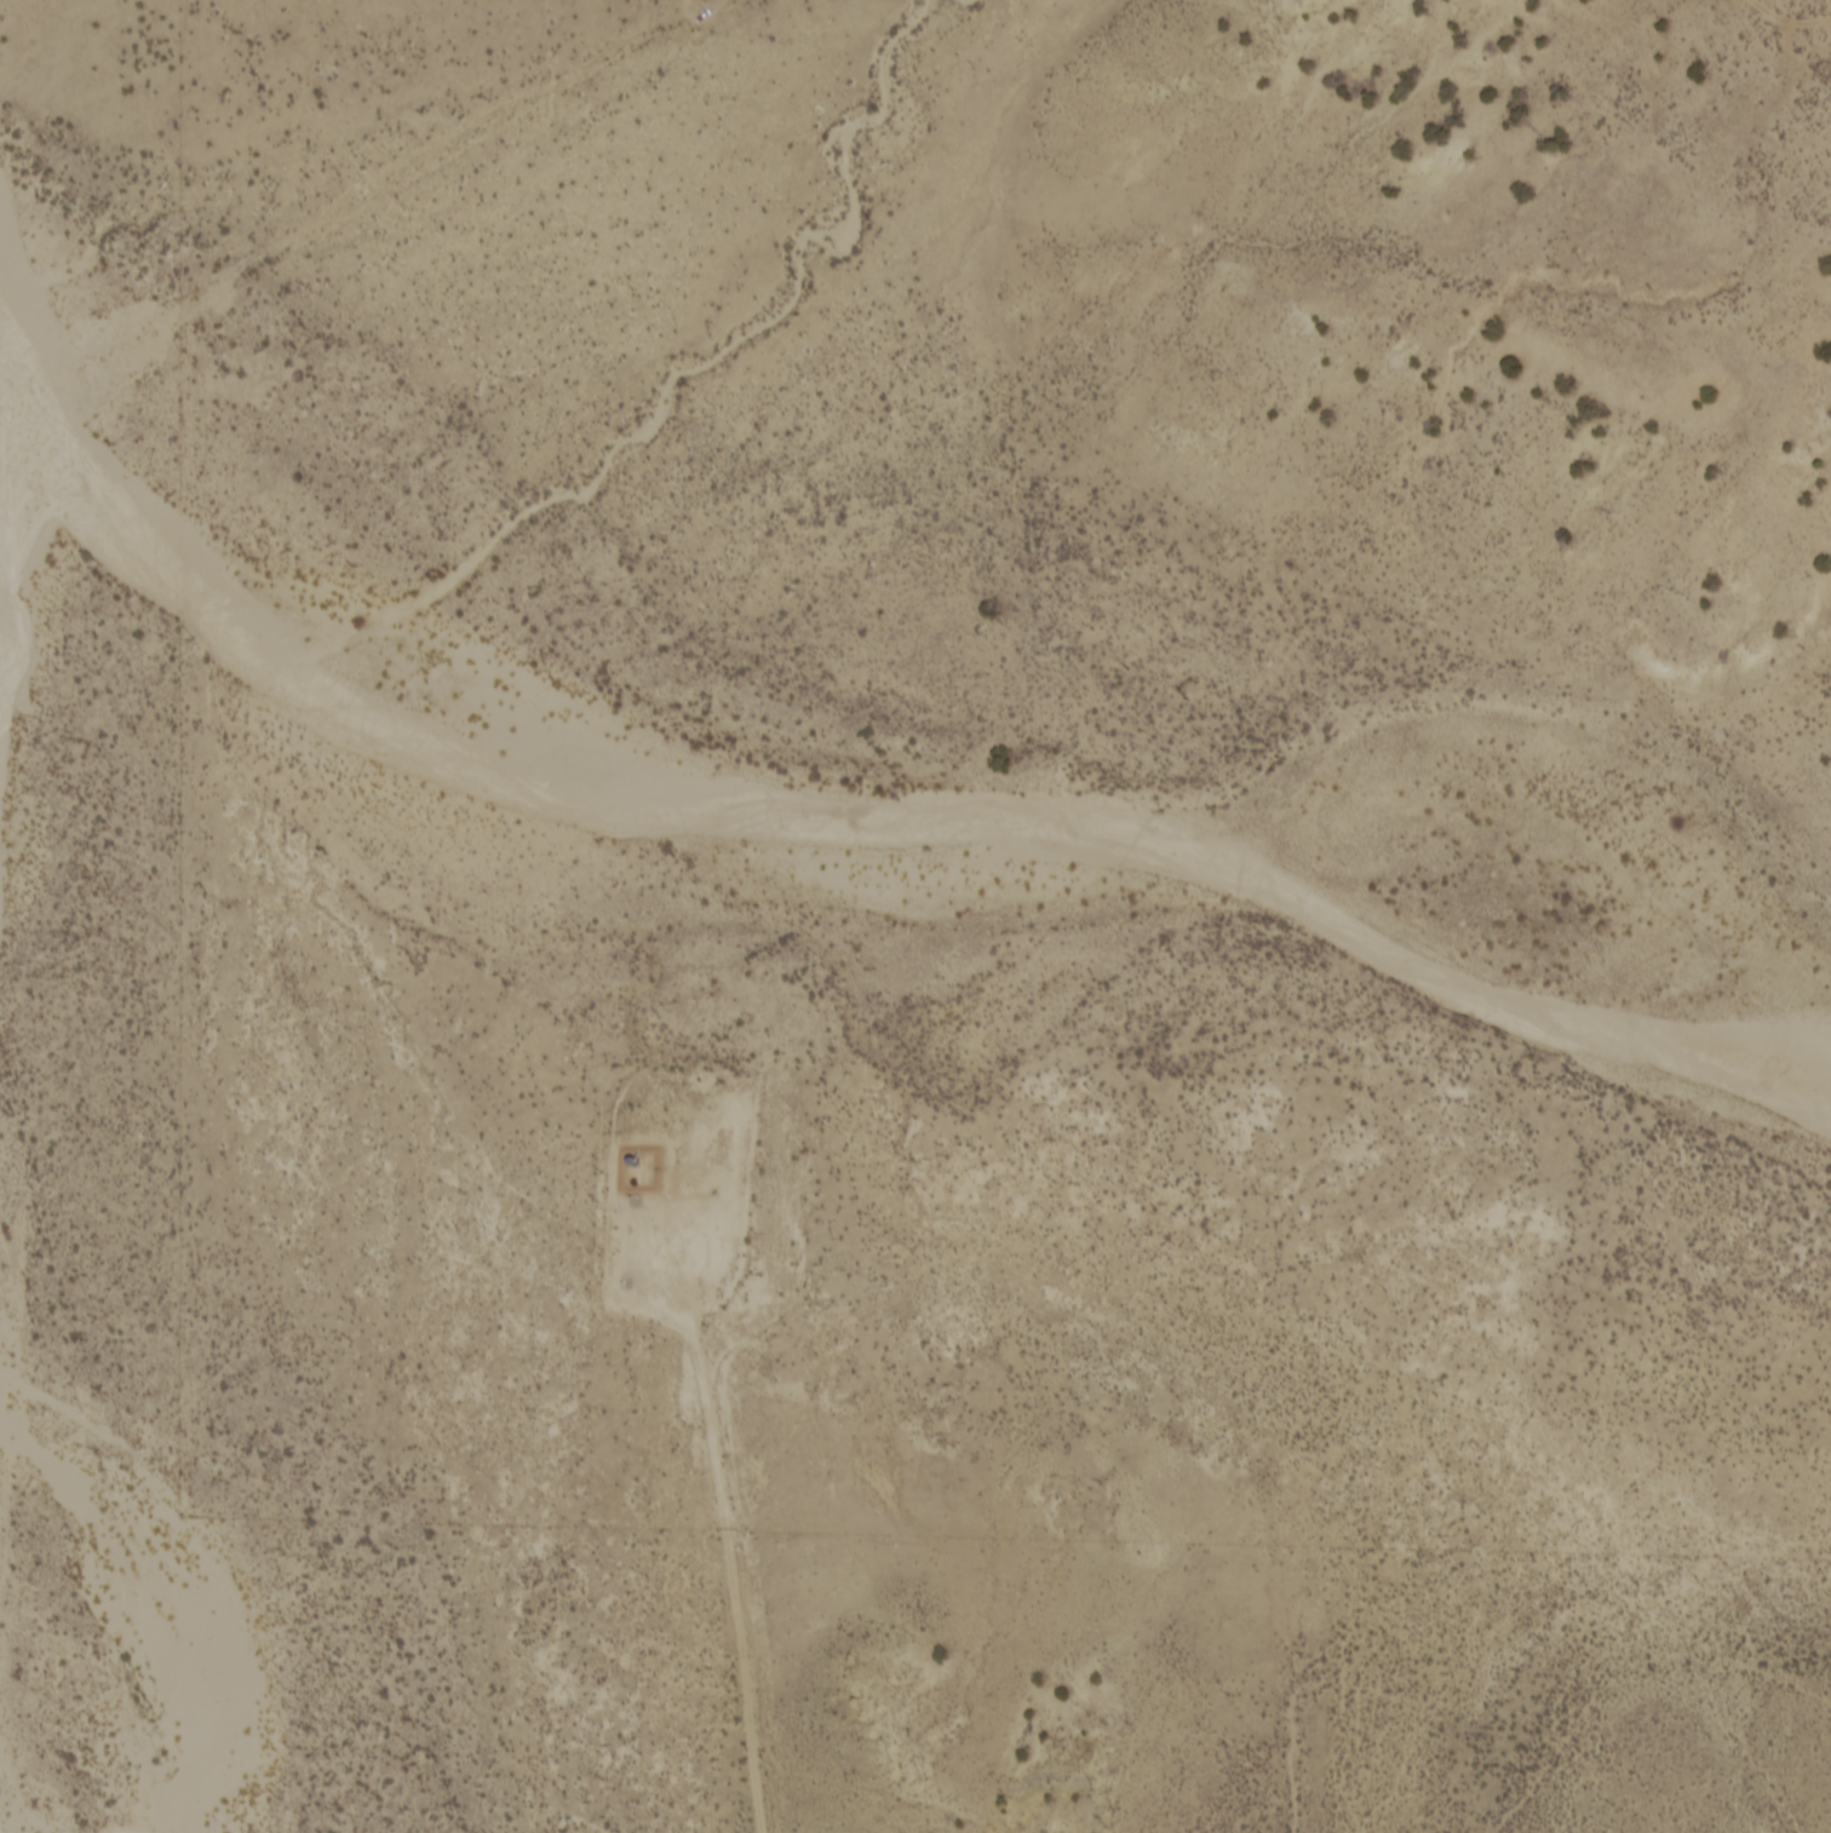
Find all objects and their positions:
river: (10, 564)
river: (833, 812)
river: (12, 1452)

